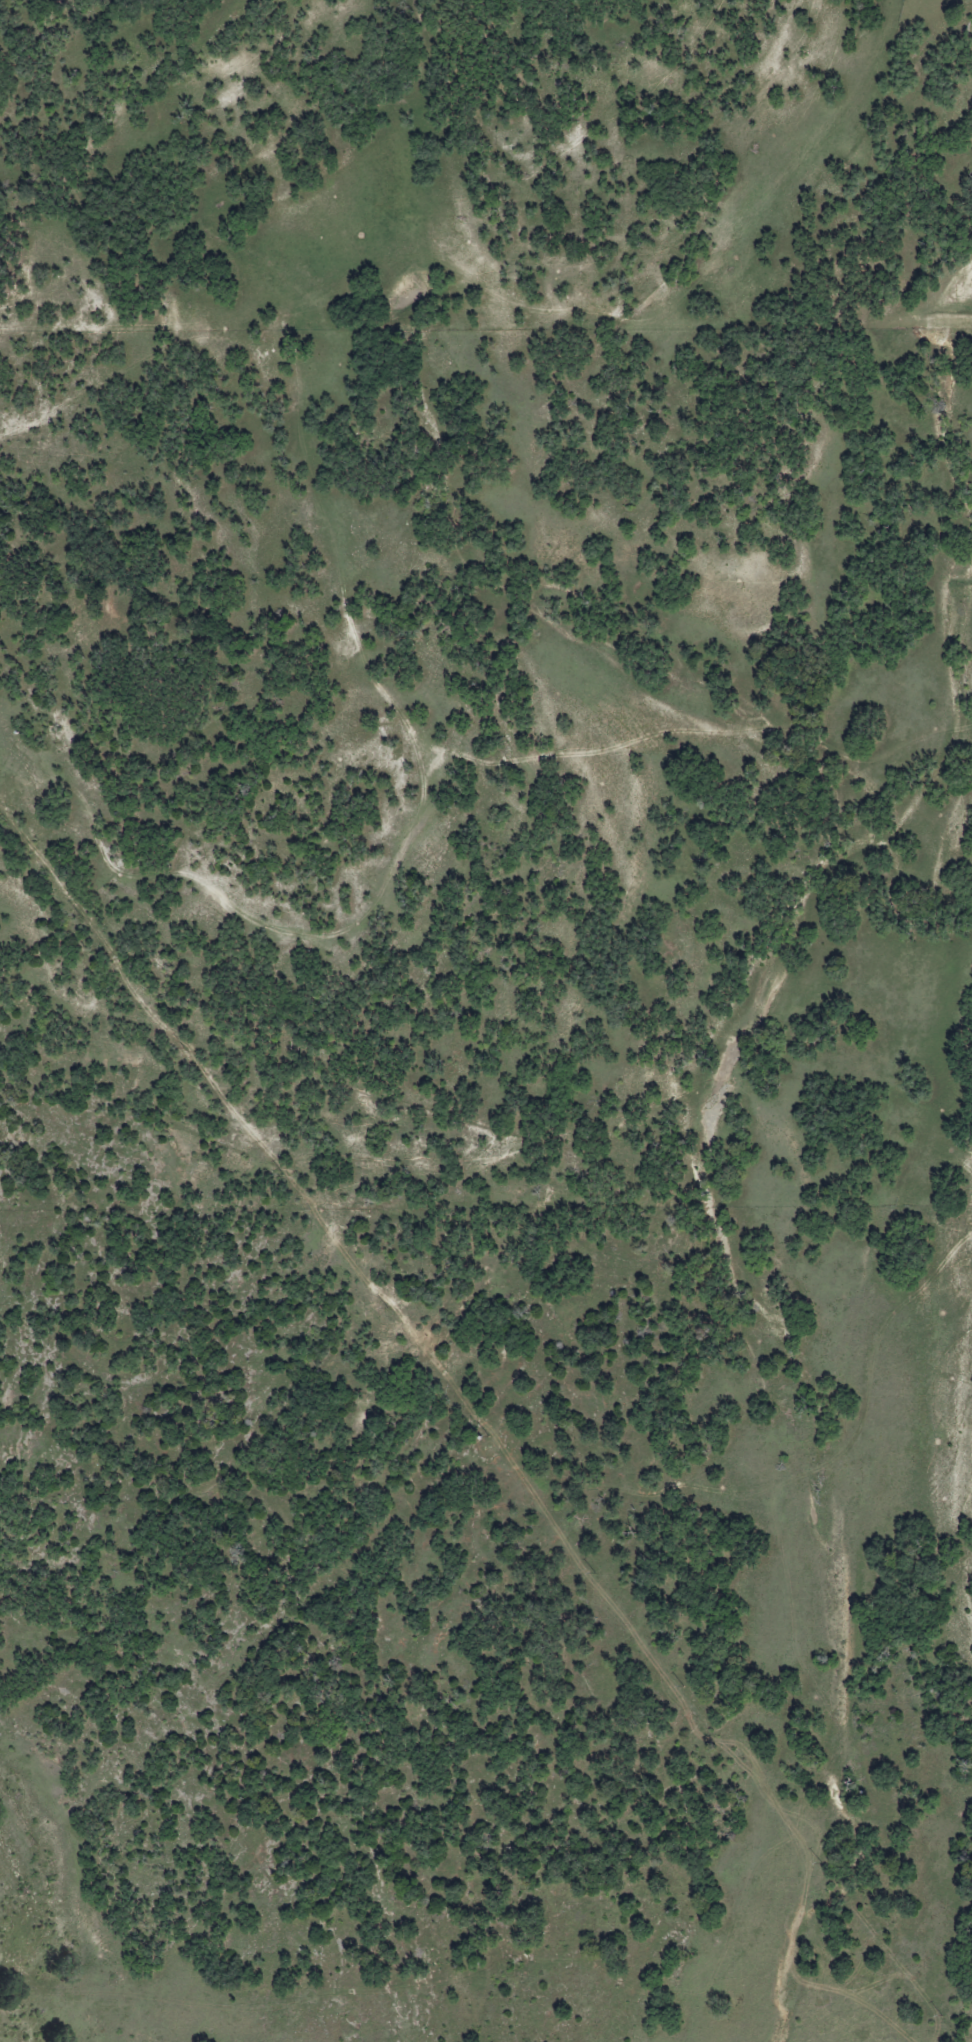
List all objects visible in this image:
road: (347, 456)

